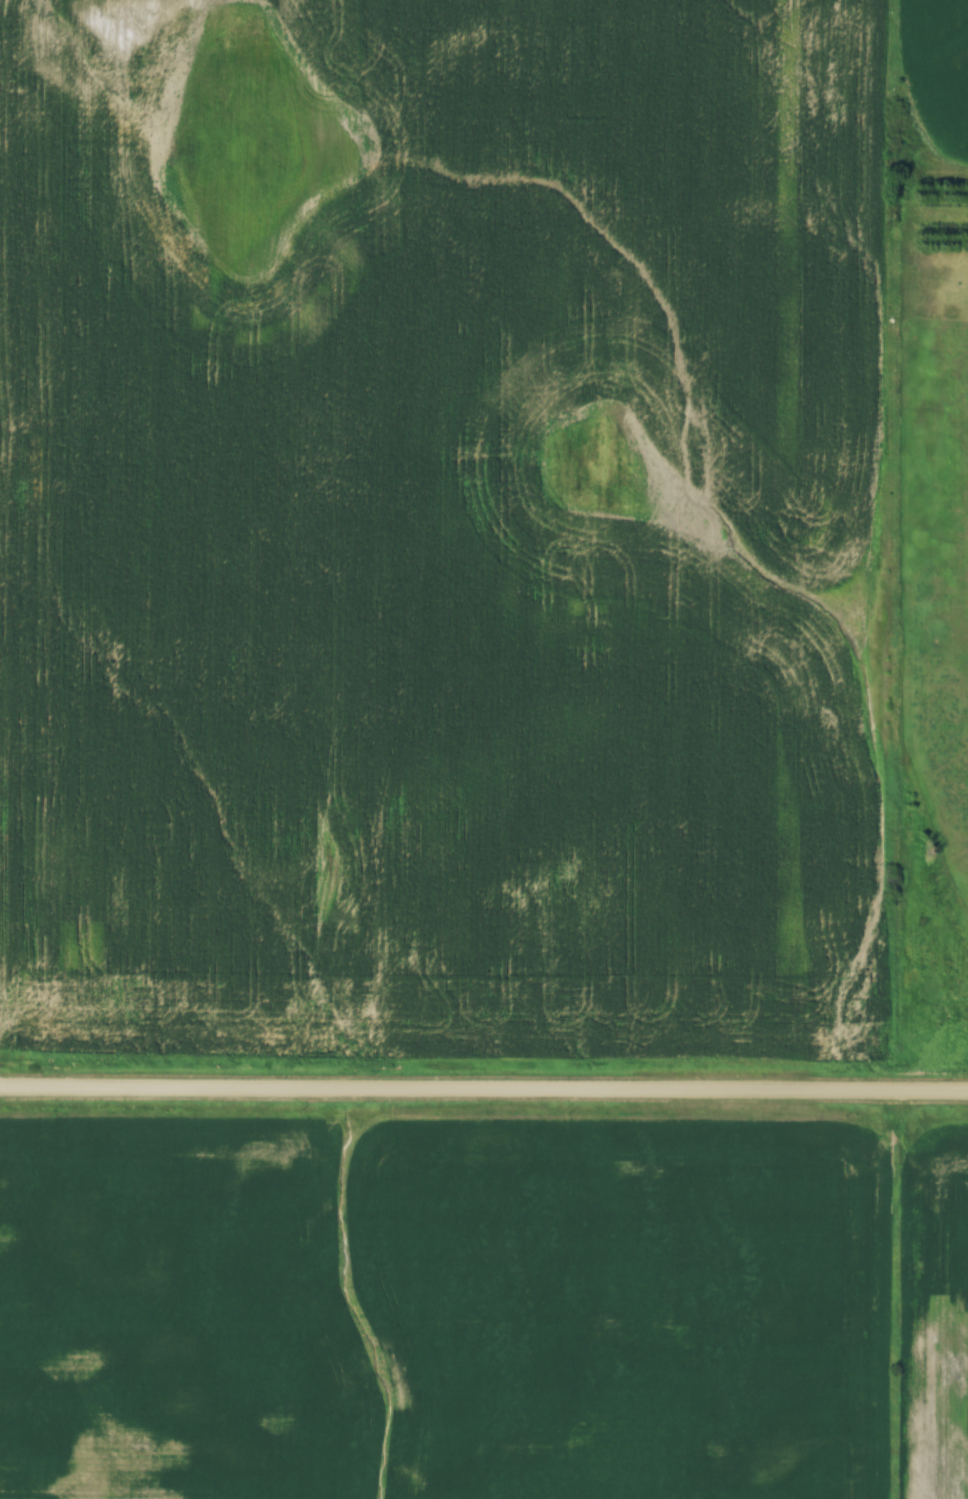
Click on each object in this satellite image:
road: (484, 1089)

